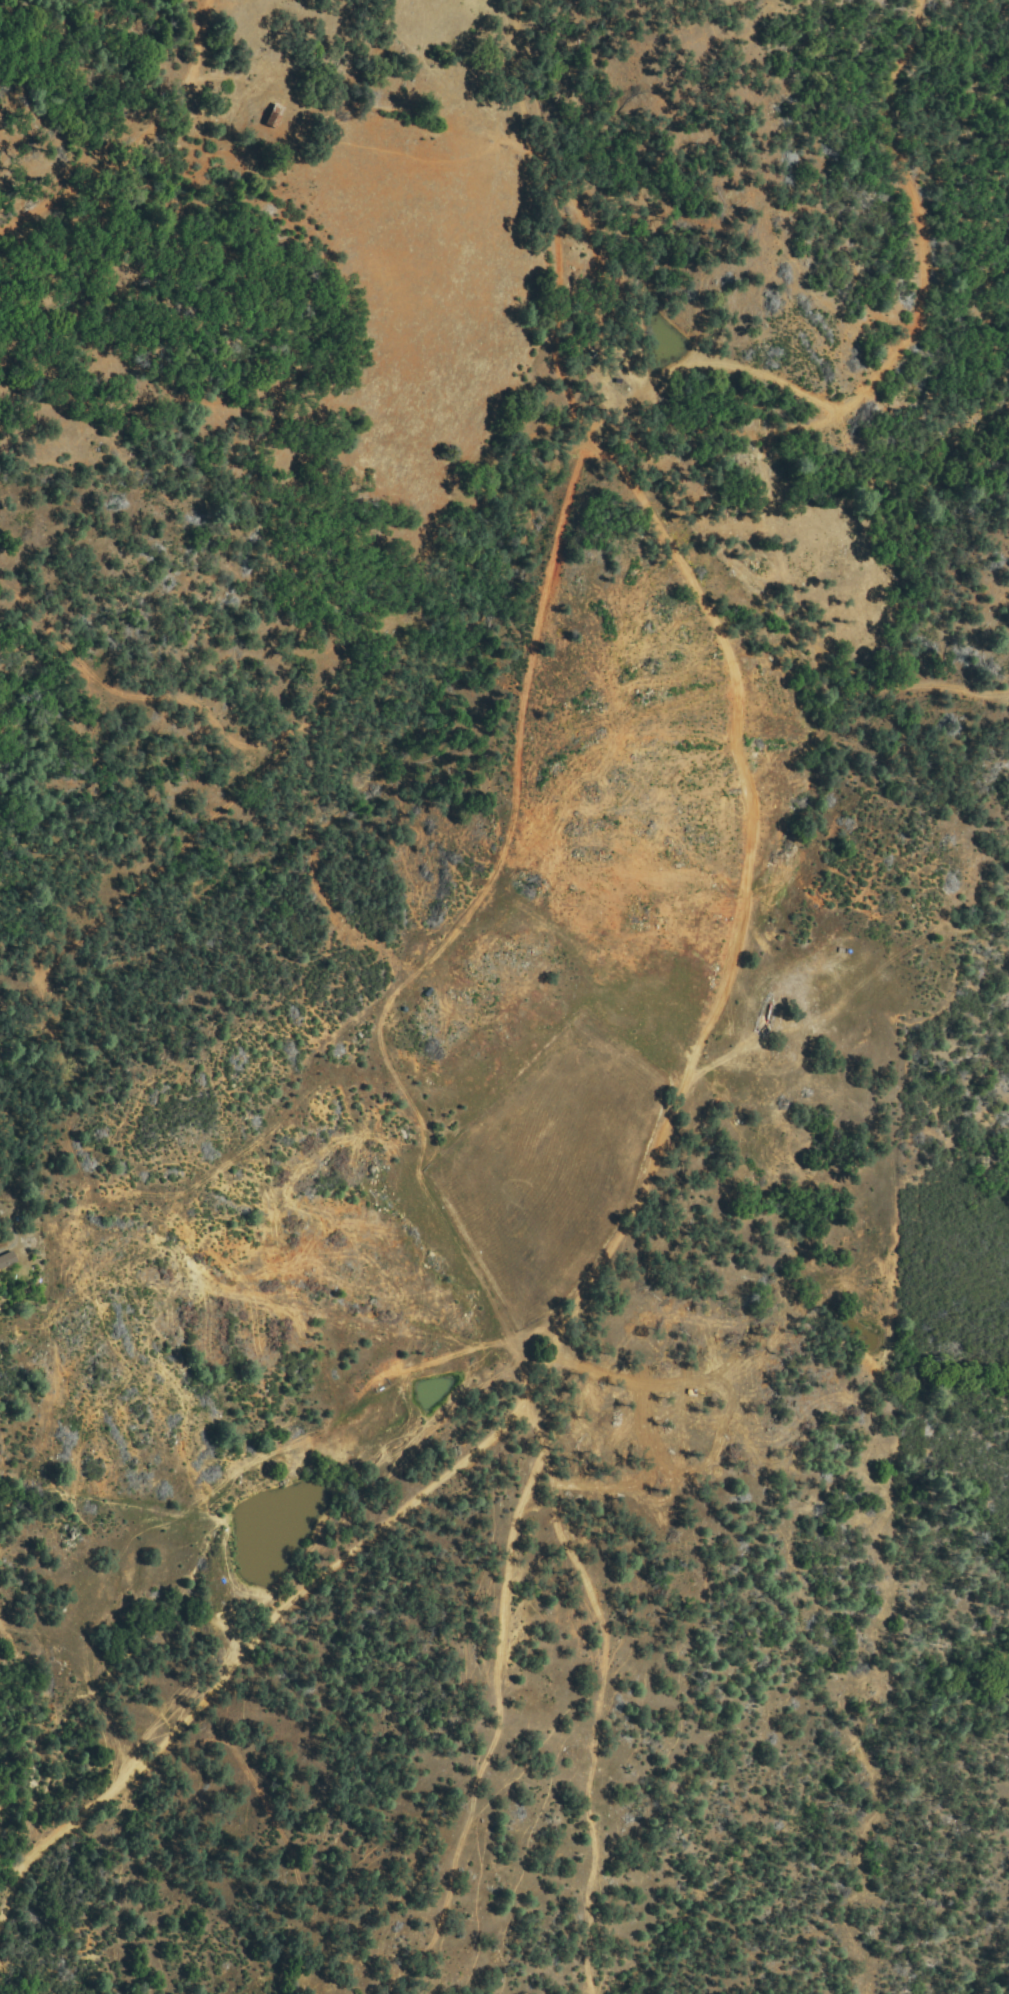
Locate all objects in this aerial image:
building: (274, 117)
road: (599, 1254)
building: (6, 1260)

